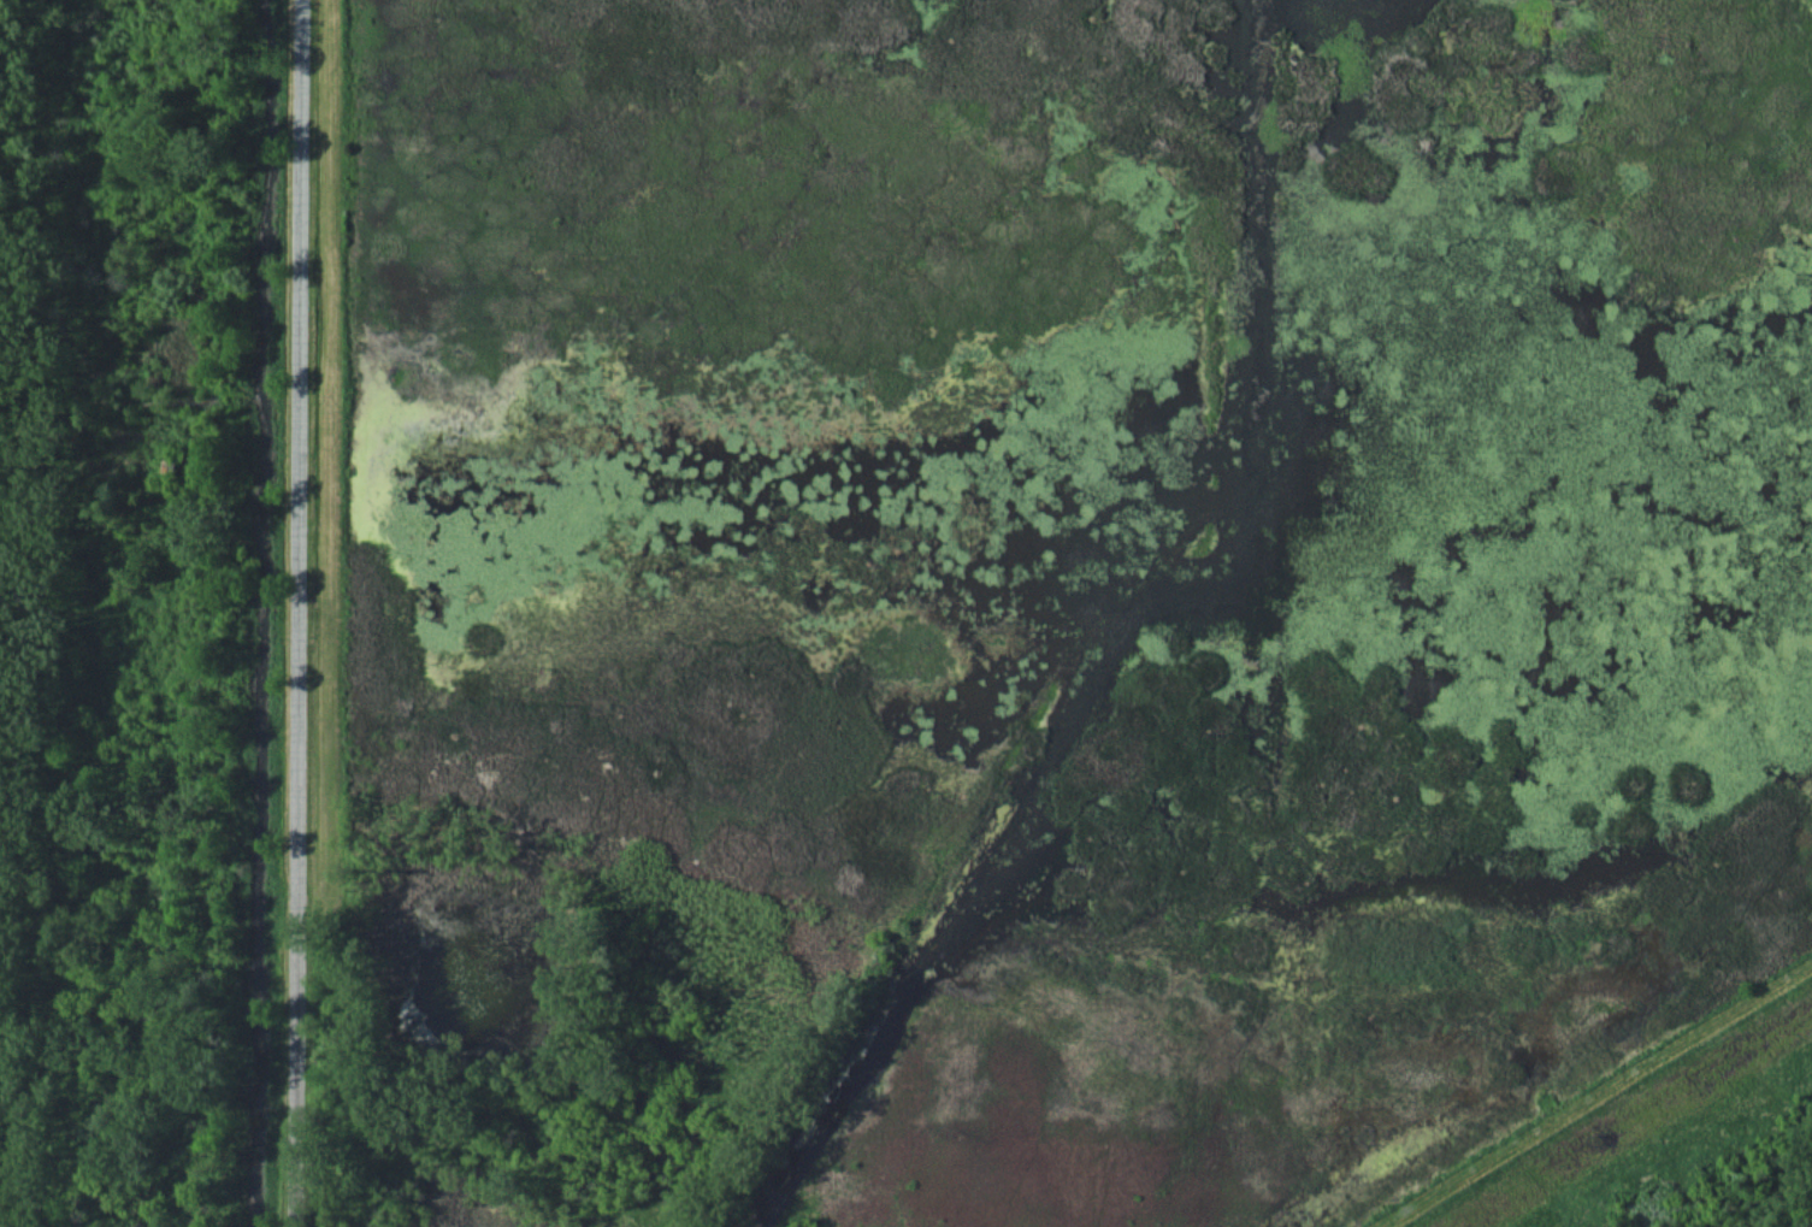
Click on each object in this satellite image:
road: (305, 613)

